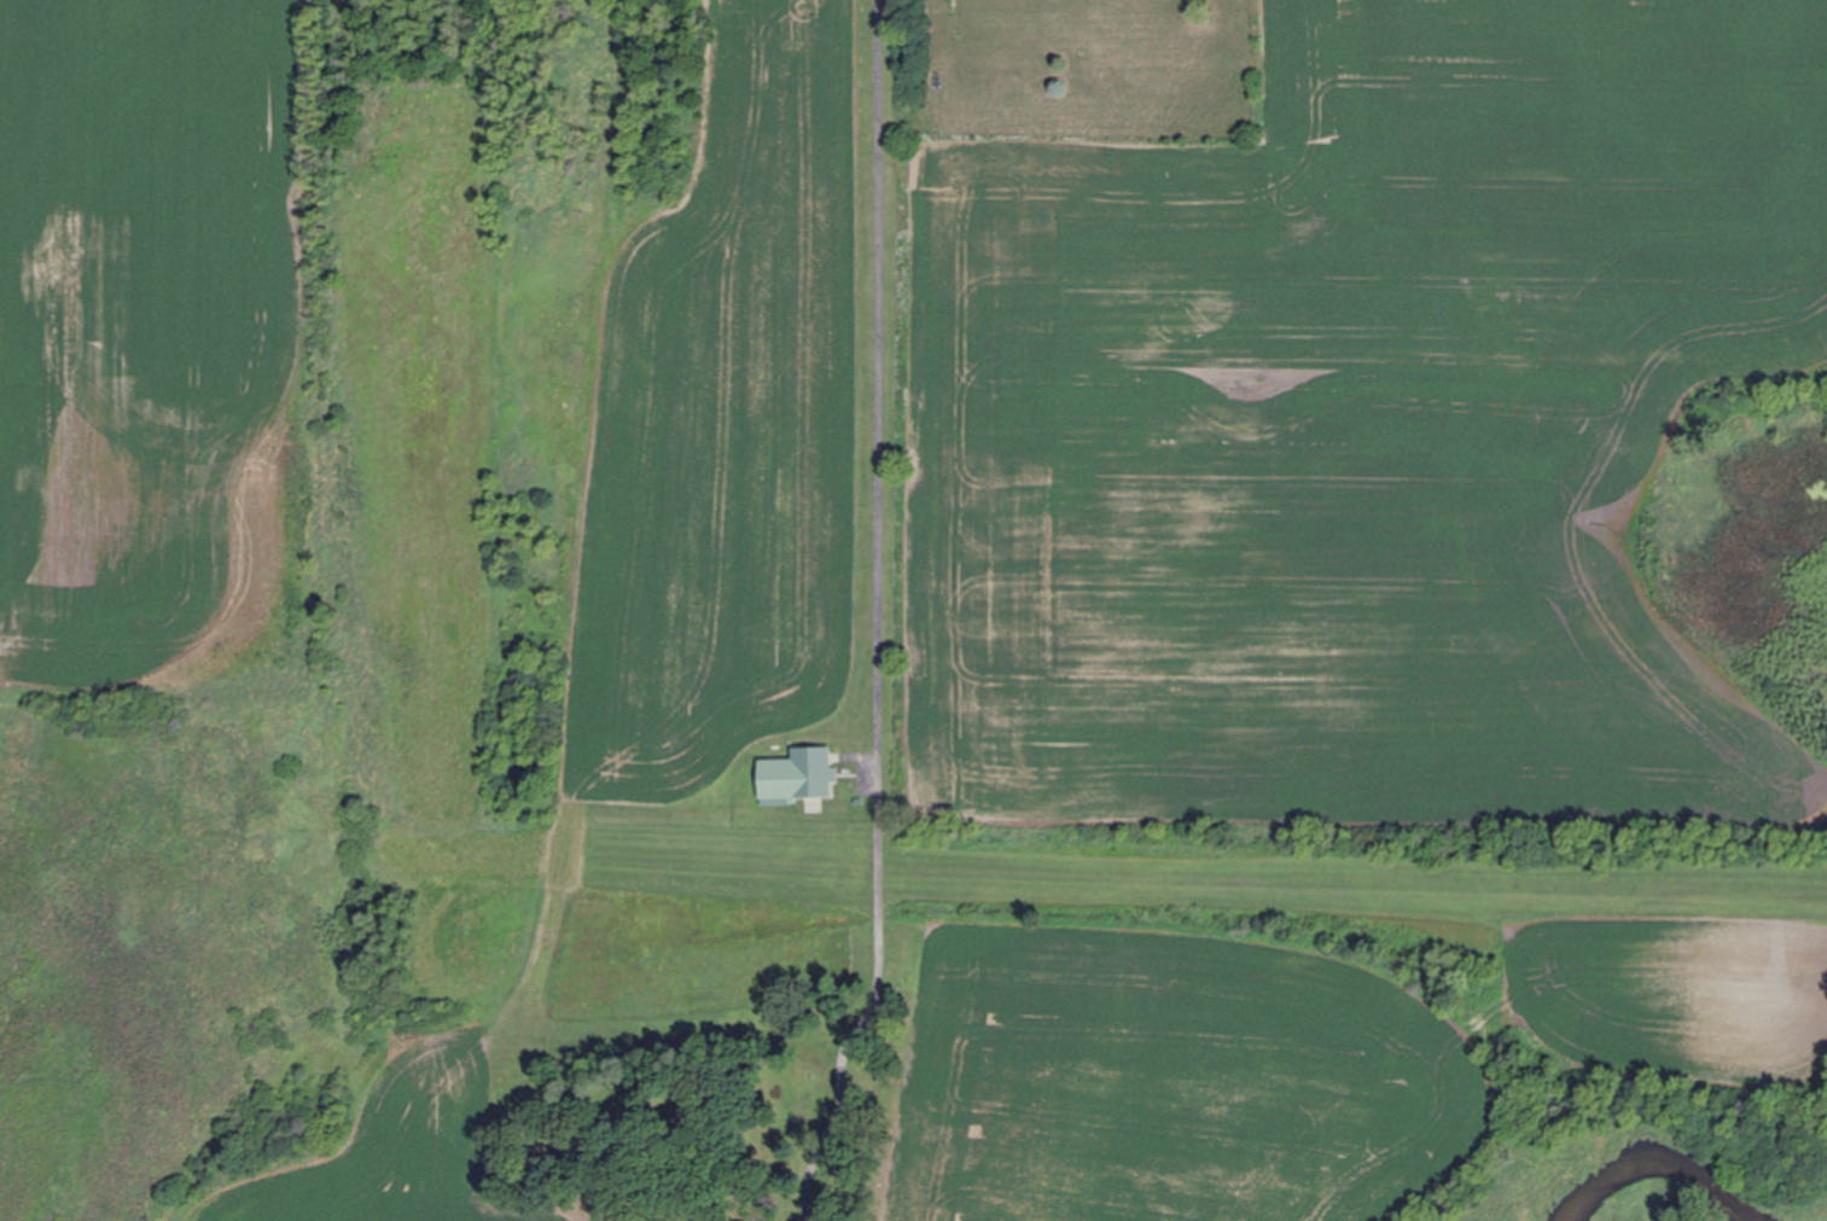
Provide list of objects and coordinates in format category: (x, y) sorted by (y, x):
road: (884, 616)
building: (799, 778)
river: (1672, 1165)

